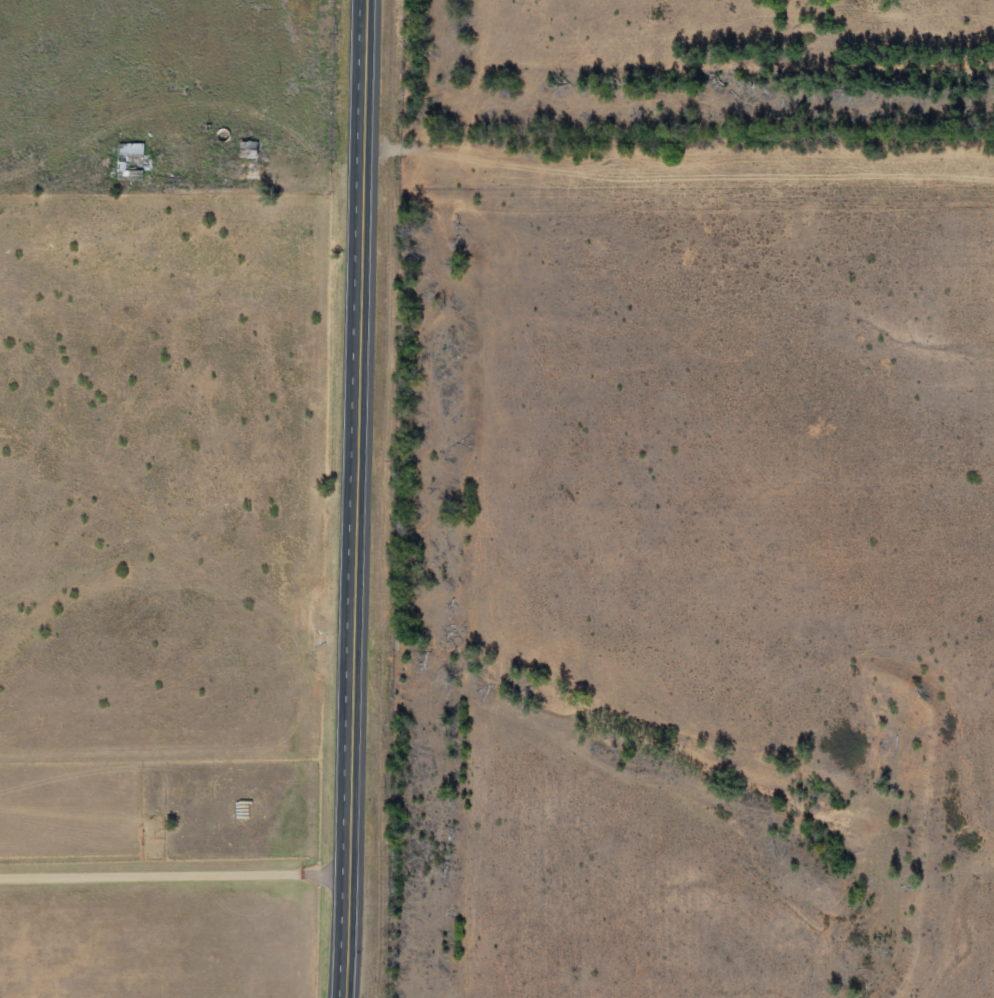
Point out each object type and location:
building: (249, 151)
road: (682, 153)
building: (131, 163)
road: (357, 498)

